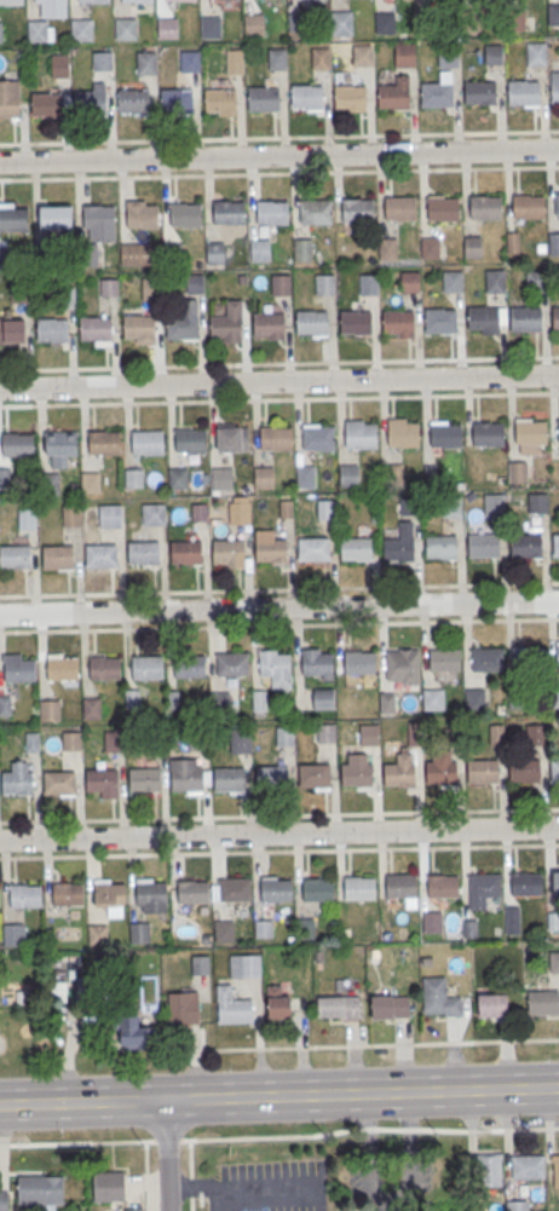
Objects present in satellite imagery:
building: (36, 0)
building: (93, 0)
building: (131, 0)
building: (179, 0)
building: (11, 1)
building: (53, 7)
building: (553, 13)
building: (513, 18)
building: (468, 19)
building: (340, 22)
building: (385, 22)
building: (426, 22)
building: (296, 23)
building: (253, 24)
building: (209, 25)
building: (167, 27)
building: (125, 28)
building: (81, 29)
building: (36, 30)
building: (0, 33)
building: (361, 53)
building: (492, 53)
building: (536, 53)
building: (405, 56)
building: (319, 57)
building: (449, 57)
building: (276, 58)
building: (100, 60)
building: (146, 60)
building: (189, 60)
building: (235, 60)
building: (59, 64)
building: (554, 86)
building: (523, 92)
building: (480, 93)
building: (306, 96)
building: (350, 96)
building: (394, 96)
building: (438, 96)
building: (8, 98)
building: (220, 98)
building: (263, 98)
building: (132, 99)
building: (91, 100)
building: (177, 100)
building: (46, 103)
road: (279, 137)
road: (278, 155)
road: (278, 172)
building: (557, 203)
building: (485, 206)
building: (528, 206)
building: (400, 207)
building: (442, 208)
building: (357, 209)
building: (227, 211)
building: (315, 211)
building: (271, 212)
building: (185, 214)
building: (142, 215)
building: (12, 217)
building: (54, 217)
building: (99, 223)
building: (553, 242)
building: (472, 246)
building: (428, 247)
building: (387, 248)
building: (259, 249)
building: (302, 249)
building: (214, 252)
building: (134, 253)
building: (44, 255)
building: (87, 255)
building: (2, 258)
building: (494, 279)
building: (409, 281)
building: (451, 281)
building: (195, 282)
building: (324, 283)
building: (368, 283)
building: (281, 284)
building: (110, 288)
building: (150, 288)
building: (68, 298)
building: (555, 316)
building: (483, 317)
building: (525, 318)
building: (397, 319)
building: (440, 319)
building: (184, 321)
building: (227, 321)
building: (311, 321)
building: (355, 321)
building: (267, 323)
building: (138, 325)
building: (94, 328)
building: (51, 329)
building: (12, 330)
road: (279, 362)
road: (279, 381)
road: (279, 399)
building: (558, 429)
building: (402, 431)
building: (530, 431)
building: (486, 432)
building: (359, 433)
building: (445, 433)
building: (317, 437)
building: (232, 438)
building: (275, 438)
building: (191, 439)
building: (104, 442)
building: (146, 442)
building: (59, 443)
building: (17, 444)
building: (517, 471)
building: (347, 474)
building: (263, 475)
building: (305, 475)
building: (177, 477)
building: (221, 477)
building: (133, 478)
building: (48, 480)
building: (90, 480)
building: (537, 502)
building: (408, 504)
building: (494, 504)
building: (451, 506)
building: (286, 508)
building: (325, 508)
building: (200, 511)
building: (237, 511)
building: (152, 513)
building: (71, 514)
building: (110, 515)
building: (373, 515)
building: (27, 518)
building: (399, 542)
building: (525, 543)
building: (555, 543)
building: (483, 544)
building: (440, 546)
building: (269, 547)
building: (313, 548)
building: (356, 548)
building: (184, 550)
building: (227, 550)
building: (143, 552)
building: (13, 555)
building: (100, 555)
building: (57, 557)
road: (279, 588)
road: (279, 607)
road: (279, 624)
building: (558, 654)
building: (444, 658)
building: (488, 658)
building: (528, 658)
building: (403, 659)
building: (317, 662)
building: (359, 662)
building: (232, 663)
building: (146, 665)
building: (189, 665)
building: (60, 667)
building: (104, 667)
building: (273, 667)
building: (18, 669)
building: (474, 697)
building: (322, 698)
building: (432, 698)
building: (259, 699)
building: (386, 702)
building: (5, 705)
building: (91, 707)
building: (48, 709)
building: (325, 732)
building: (495, 733)
building: (535, 733)
building: (368, 734)
building: (284, 736)
building: (197, 738)
building: (71, 739)
building: (240, 739)
building: (31, 740)
building: (114, 740)
building: (483, 769)
building: (524, 769)
building: (554, 769)
building: (440, 771)
building: (357, 773)
building: (398, 773)
building: (313, 774)
building: (273, 775)
building: (144, 778)
building: (186, 778)
building: (227, 778)
building: (102, 779)
building: (16, 782)
building: (58, 782)
road: (278, 814)
road: (279, 834)
road: (278, 849)
building: (526, 883)
building: (555, 883)
building: (400, 886)
building: (443, 886)
building: (359, 888)
building: (235, 889)
building: (276, 889)
building: (317, 889)
building: (483, 889)
building: (194, 892)
building: (151, 893)
building: (25, 895)
building: (68, 895)
building: (110, 895)
building: (512, 919)
building: (553, 919)
building: (431, 922)
building: (305, 927)
building: (469, 927)
building: (263, 928)
building: (224, 929)
building: (139, 932)
building: (96, 933)
building: (12, 934)
building: (553, 961)
building: (200, 964)
building: (244, 964)
building: (80, 986)
building: (64, 990)
building: (148, 990)
building: (439, 997)
building: (277, 1003)
building: (543, 1003)
building: (492, 1004)
building: (231, 1007)
building: (339, 1007)
building: (390, 1007)
building: (184, 1008)
building: (134, 1032)
road: (376, 1043)
road: (196, 1066)
road: (279, 1096)
road: (279, 1137)
road: (168, 1154)
building: (528, 1166)
building: (489, 1169)
building: (557, 1171)
building: (421, 1178)
building: (109, 1186)
road: (244, 1187)
parking lot: (269, 1187)
building: (41, 1189)
building: (4, 1201)
building: (515, 1205)
building: (133, 1210)

